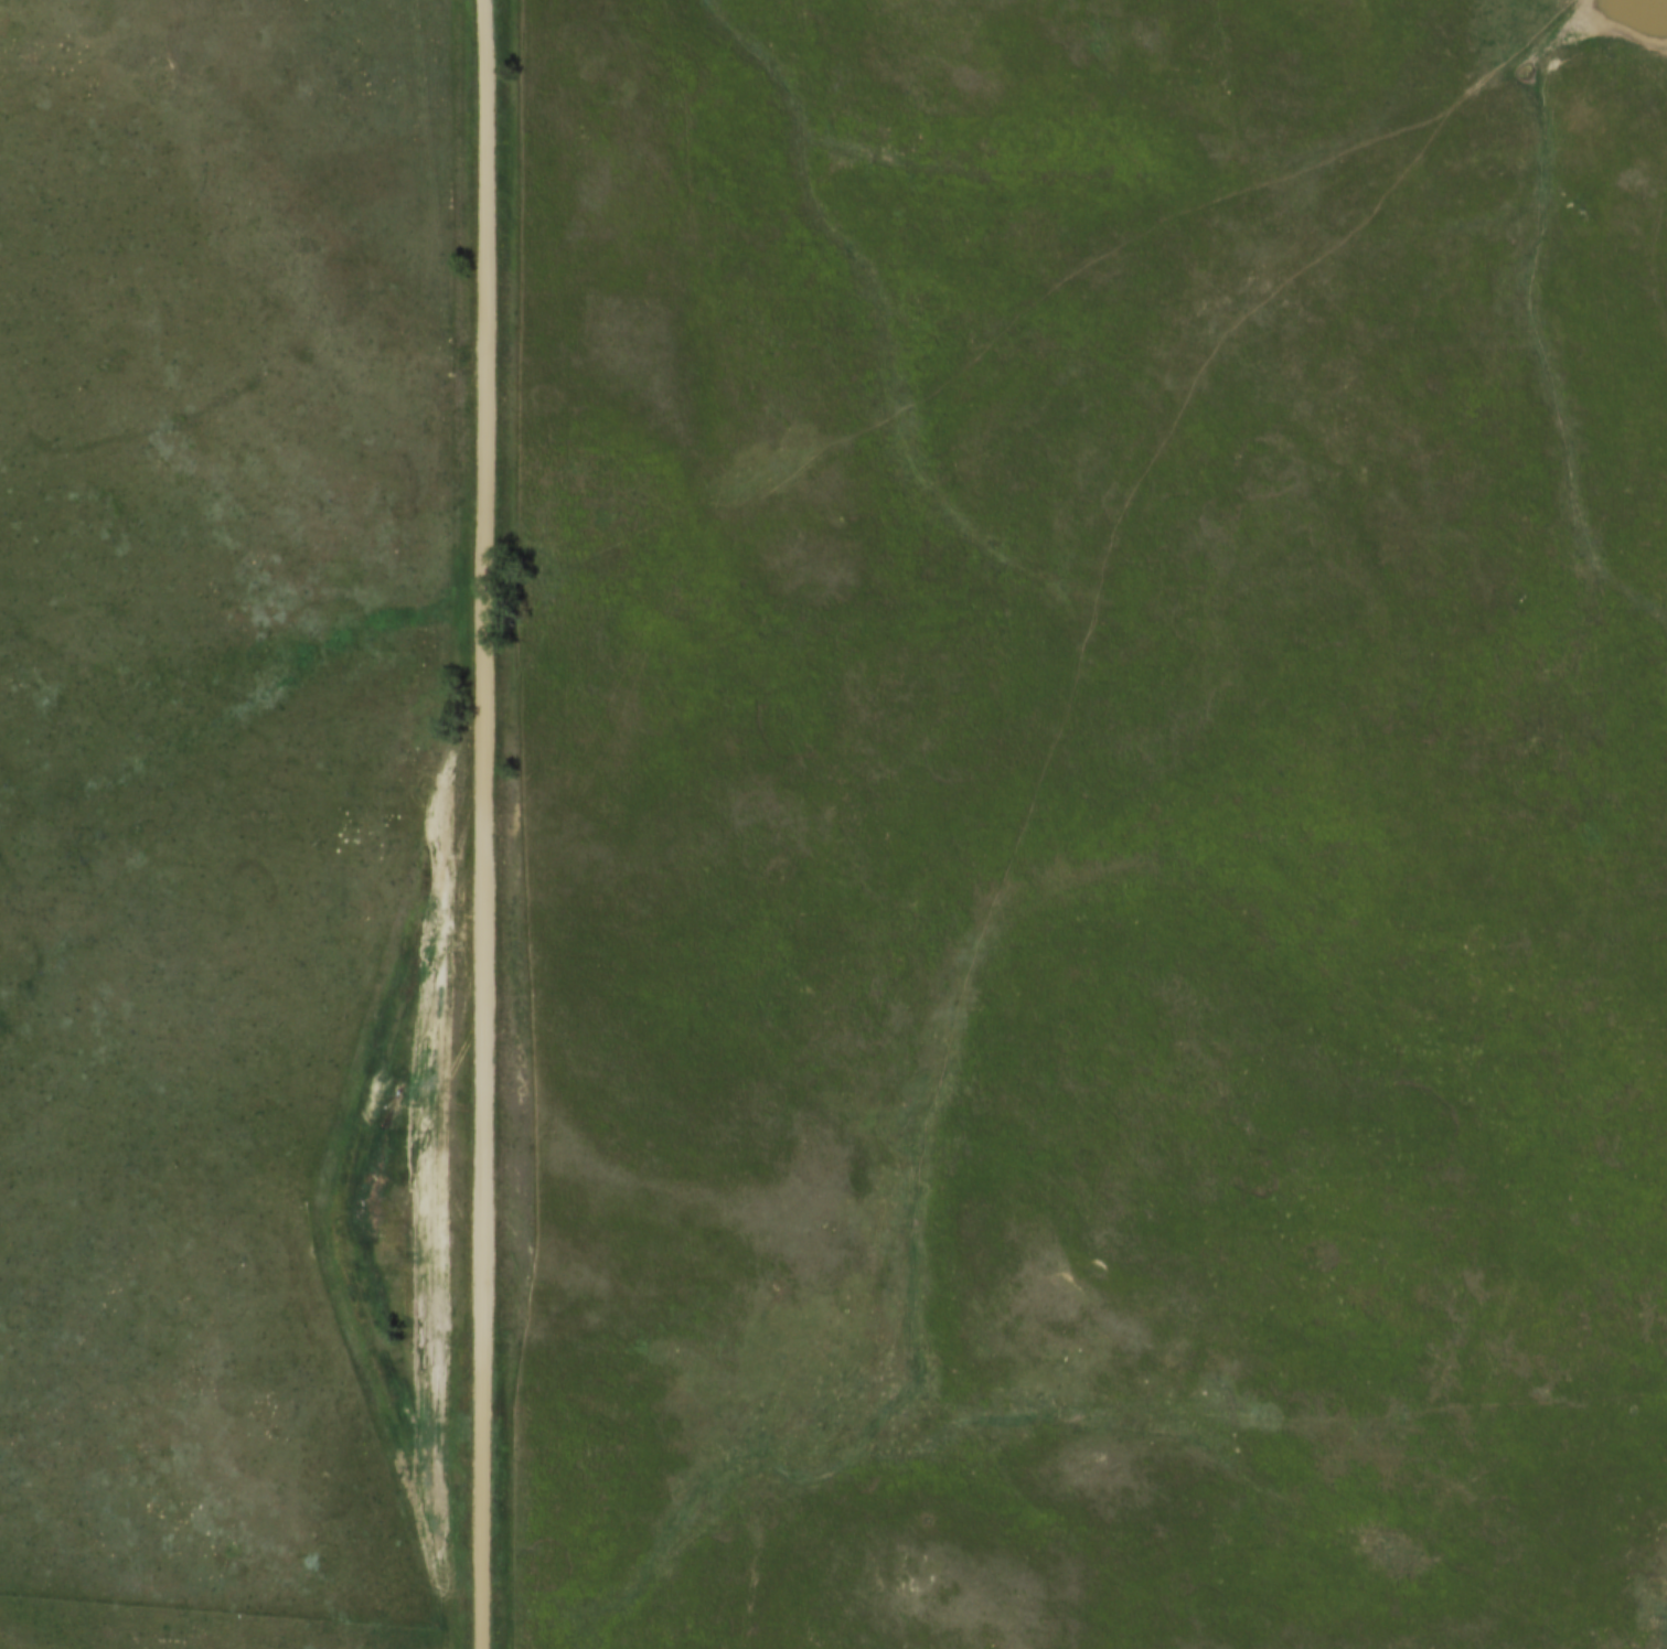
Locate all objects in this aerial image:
road: (479, 824)

